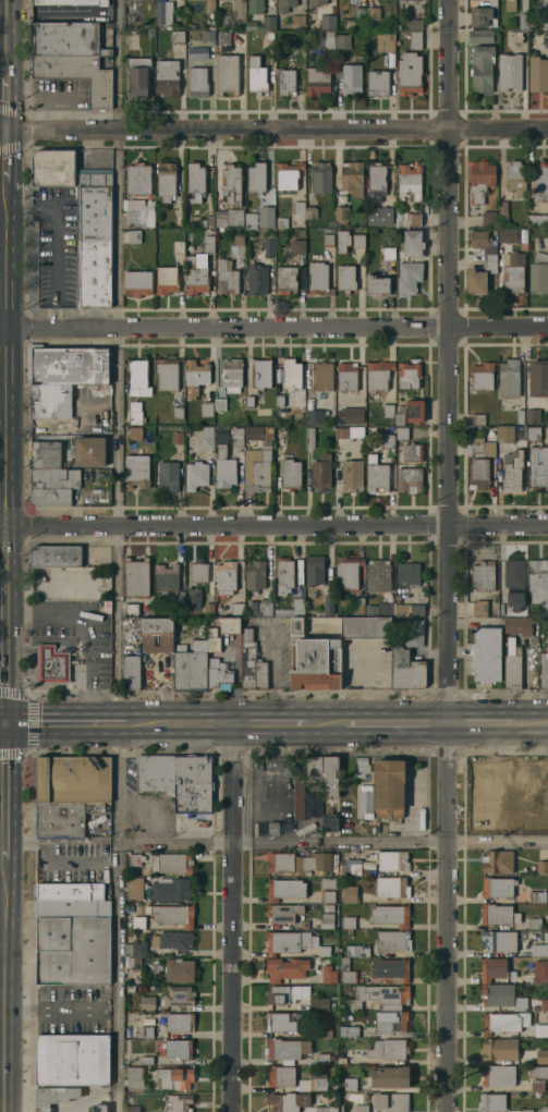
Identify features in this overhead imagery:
building: (229, 0)
building: (71, 2)
building: (315, 2)
building: (209, 3)
building: (510, 4)
building: (284, 5)
building: (255, 7)
building: (239, 9)
building: (372, 12)
building: (162, 13)
building: (480, 15)
building: (131, 16)
building: (355, 17)
building: (297, 21)
building: (328, 21)
building: (523, 21)
building: (263, 23)
building: (414, 23)
building: (545, 23)
building: (208, 35)
building: (176, 36)
building: (480, 36)
road: (5, 37)
building: (65, 39)
building: (326, 39)
building: (415, 39)
building: (222, 40)
building: (343, 41)
building: (386, 41)
building: (197, 56)
building: (482, 68)
building: (510, 72)
building: (228, 73)
building: (410, 73)
building: (538, 74)
building: (77, 75)
building: (138, 75)
building: (256, 75)
building: (167, 77)
building: (351, 80)
building: (198, 81)
building: (318, 81)
building: (287, 82)
building: (378, 83)
road: (5, 101)
road: (273, 130)
road: (5, 159)
building: (65, 170)
building: (288, 174)
building: (256, 176)
building: (321, 176)
building: (138, 178)
building: (352, 178)
building: (376, 178)
building: (480, 179)
building: (516, 179)
building: (195, 180)
building: (167, 181)
building: (410, 181)
building: (540, 181)
building: (231, 183)
building: (299, 208)
building: (502, 210)
building: (312, 211)
building: (139, 212)
building: (382, 212)
building: (340, 215)
building: (265, 216)
building: (229, 217)
building: (407, 218)
building: (251, 219)
building: (489, 219)
building: (538, 220)
building: (207, 221)
building: (282, 222)
road: (57, 229)
building: (509, 235)
building: (134, 236)
building: (479, 239)
building: (328, 240)
building: (358, 240)
building: (342, 241)
building: (413, 243)
building: (94, 245)
building: (179, 246)
building: (208, 246)
building: (238, 246)
building: (297, 246)
building: (269, 247)
building: (389, 253)
building: (491, 257)
road: (121, 260)
building: (514, 273)
building: (538, 274)
building: (195, 277)
building: (226, 277)
building: (409, 278)
building: (480, 278)
building: (167, 279)
building: (256, 279)
building: (285, 279)
building: (319, 279)
building: (345, 279)
building: (137, 282)
building: (377, 284)
building: (184, 293)
road: (273, 328)
building: (196, 371)
building: (167, 372)
building: (261, 372)
building: (64, 374)
building: (291, 374)
building: (378, 374)
building: (232, 375)
building: (409, 375)
building: (483, 376)
building: (346, 377)
building: (538, 377)
building: (138, 378)
building: (509, 378)
road: (4, 384)
building: (318, 391)
building: (248, 401)
building: (279, 401)
building: (220, 404)
building: (134, 405)
building: (206, 408)
building: (388, 410)
building: (414, 411)
building: (178, 412)
building: (352, 415)
building: (399, 415)
building: (533, 415)
building: (520, 416)
building: (135, 417)
building: (478, 419)
building: (259, 431)
building: (355, 431)
building: (492, 431)
building: (135, 432)
building: (341, 432)
building: (402, 432)
building: (471, 432)
building: (534, 432)
building: (506, 433)
building: (179, 437)
building: (206, 437)
building: (238, 437)
building: (309, 438)
road: (2, 440)
building: (388, 440)
building: (483, 447)
building: (89, 451)
building: (412, 452)
building: (44, 454)
building: (224, 467)
building: (538, 468)
building: (512, 471)
building: (261, 472)
building: (321, 472)
building: (135, 474)
building: (291, 474)
building: (479, 474)
building: (195, 475)
building: (376, 475)
building: (168, 476)
building: (352, 476)
building: (409, 479)
building: (53, 485)
road: (273, 521)
building: (56, 555)
road: (447, 555)
building: (314, 570)
building: (198, 571)
building: (346, 572)
building: (255, 574)
building: (284, 574)
building: (378, 574)
building: (407, 574)
building: (226, 575)
building: (485, 575)
building: (136, 576)
building: (166, 576)
building: (515, 583)
building: (539, 583)
building: (193, 597)
building: (398, 599)
building: (328, 604)
building: (357, 607)
building: (264, 608)
building: (480, 608)
building: (131, 609)
building: (208, 609)
building: (236, 609)
building: (292, 609)
building: (390, 609)
building: (407, 610)
building: (229, 624)
building: (513, 624)
building: (528, 624)
building: (366, 627)
building: (413, 633)
building: (166, 639)
building: (214, 639)
road: (5, 652)
building: (487, 653)
building: (131, 655)
building: (315, 660)
building: (51, 663)
building: (252, 663)
building: (513, 664)
building: (191, 668)
building: (544, 669)
building: (406, 671)
building: (219, 672)
road: (66, 723)
road: (180, 723)
road: (269, 723)
road: (326, 723)
road: (398, 723)
road: (482, 723)
road: (531, 723)
road: (3, 724)
traffic signals: (7, 724)
building: (362, 766)
building: (314, 768)
building: (157, 773)
building: (330, 774)
building: (72, 779)
building: (194, 783)
building: (381, 787)
building: (397, 787)
road: (5, 793)
building: (299, 798)
building: (365, 802)
building: (513, 805)
building: (315, 807)
road: (117, 816)
building: (63, 817)
building: (330, 821)
building: (273, 828)
road: (331, 844)
road: (2, 850)
building: (135, 859)
building: (393, 859)
building: (299, 862)
building: (498, 862)
building: (172, 863)
building: (543, 866)
building: (355, 868)
building: (328, 882)
building: (392, 887)
building: (497, 887)
building: (134, 888)
building: (170, 889)
building: (285, 889)
building: (69, 891)
building: (351, 893)
building: (327, 896)
building: (538, 896)
building: (72, 907)
building: (283, 912)
building: (172, 914)
building: (498, 914)
building: (391, 915)
road: (232, 917)
building: (327, 920)
building: (138, 921)
building: (349, 921)
building: (535, 924)
building: (129, 927)
building: (131, 933)
building: (546, 936)
building: (172, 940)
building: (393, 940)
building: (500, 940)
building: (287, 941)
road: (1, 946)
building: (135, 949)
building: (537, 949)
building: (72, 950)
building: (357, 950)
building: (134, 963)
building: (285, 968)
building: (391, 968)
building: (494, 968)
building: (179, 969)
building: (540, 970)
building: (346, 972)
building: (328, 974)
road: (2, 986)
building: (292, 994)
building: (498, 994)
building: (178, 995)
building: (381, 995)
building: (147, 1003)
building: (544, 1004)
building: (391, 1021)
building: (180, 1022)
building: (280, 1022)
building: (504, 1022)
building: (65, 1024)
building: (541, 1029)
building: (349, 1030)
building: (146, 1031)
building: (325, 1032)
building: (499, 1048)
building: (178, 1049)
building: (285, 1049)
building: (394, 1049)
building: (375, 1050)
building: (543, 1055)
building: (325, 1058)
building: (71, 1059)
building: (146, 1060)
building: (342, 1060)
building: (538, 1072)
building: (280, 1075)
building: (498, 1075)
building: (135, 1076)
building: (390, 1076)
building: (175, 1078)
building: (315, 1083)
building: (350, 1084)
building: (537, 1084)
building: (53, 1096)
building: (288, 1101)
building: (392, 1101)
building: (178, 1102)
building: (492, 1102)
building: (99, 1108)
building: (362, 1108)
building: (132, 1109)
building: (316, 1109)
building: (545, 1109)
building: (526, 1110)

